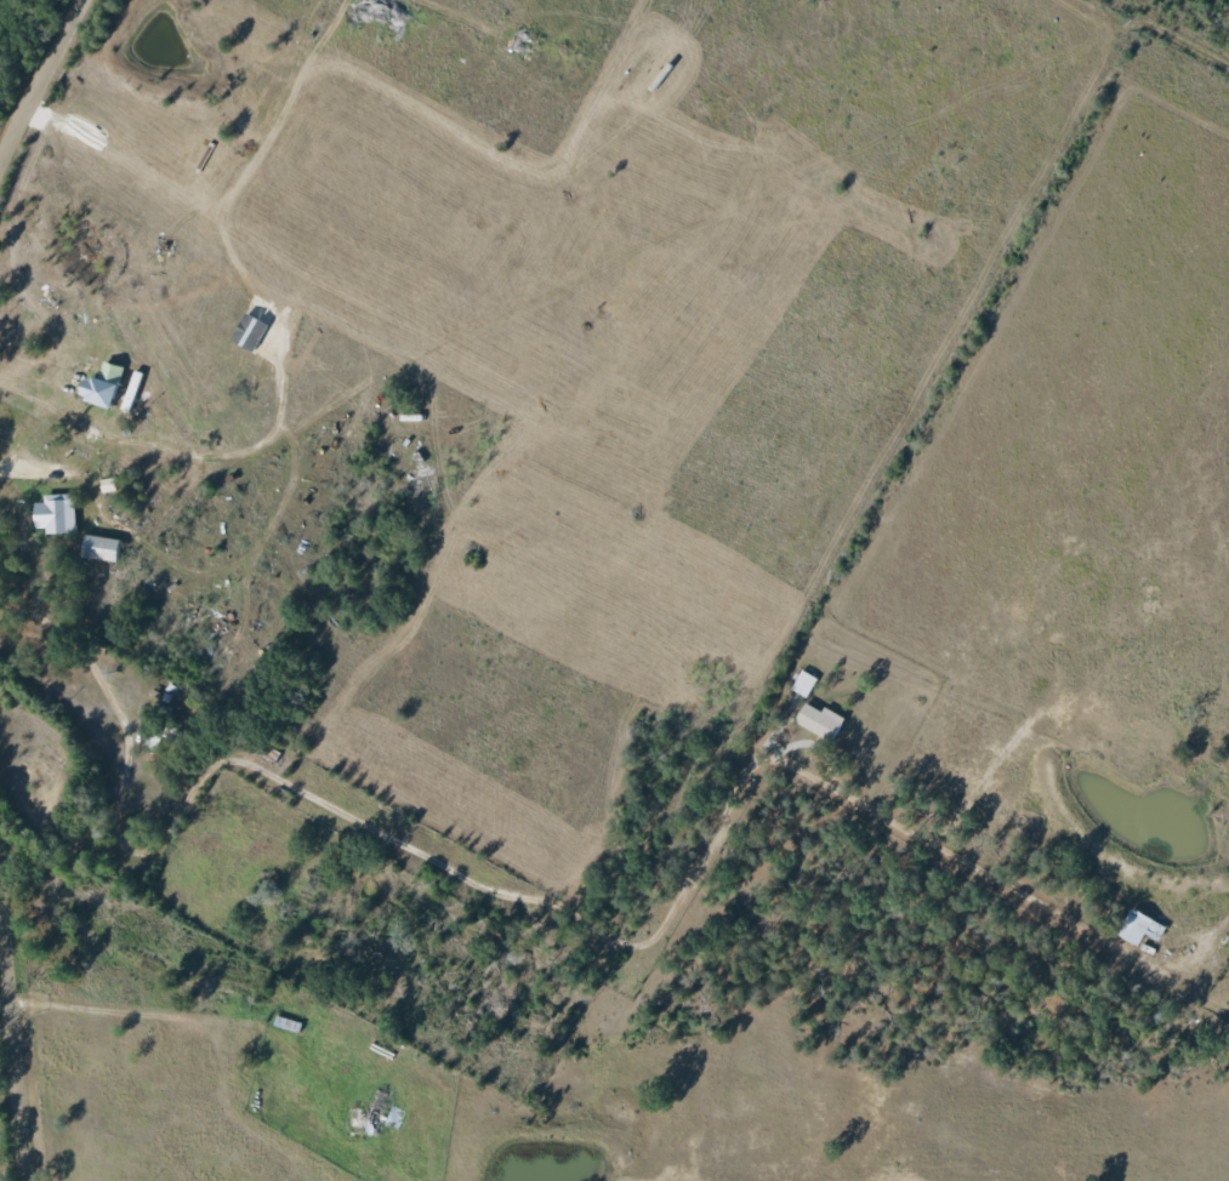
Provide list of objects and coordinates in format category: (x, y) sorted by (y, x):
road: (40, 76)
building: (98, 384)
road: (25, 438)
road: (22, 483)
building: (53, 513)
building: (97, 547)
building: (803, 683)
building: (818, 720)
road: (342, 827)
building: (1138, 928)
road: (8, 1094)

